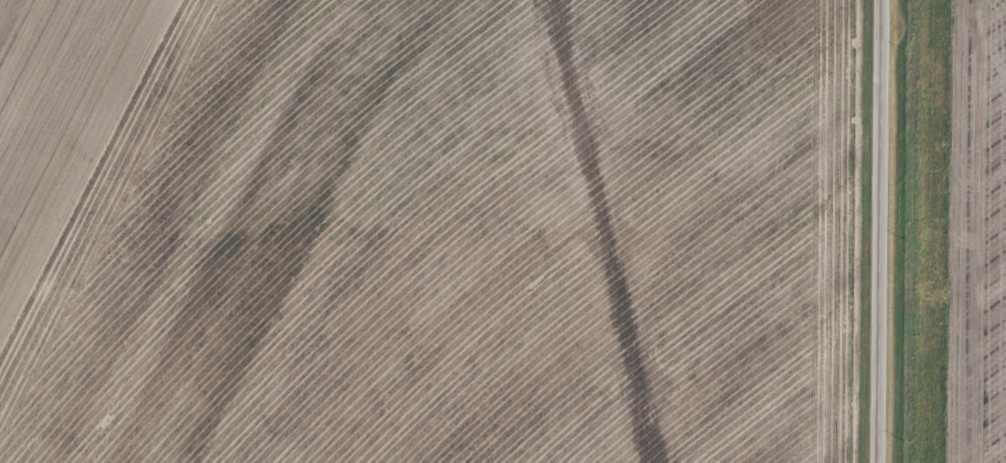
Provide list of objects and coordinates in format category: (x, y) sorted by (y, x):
road: (886, 231)

